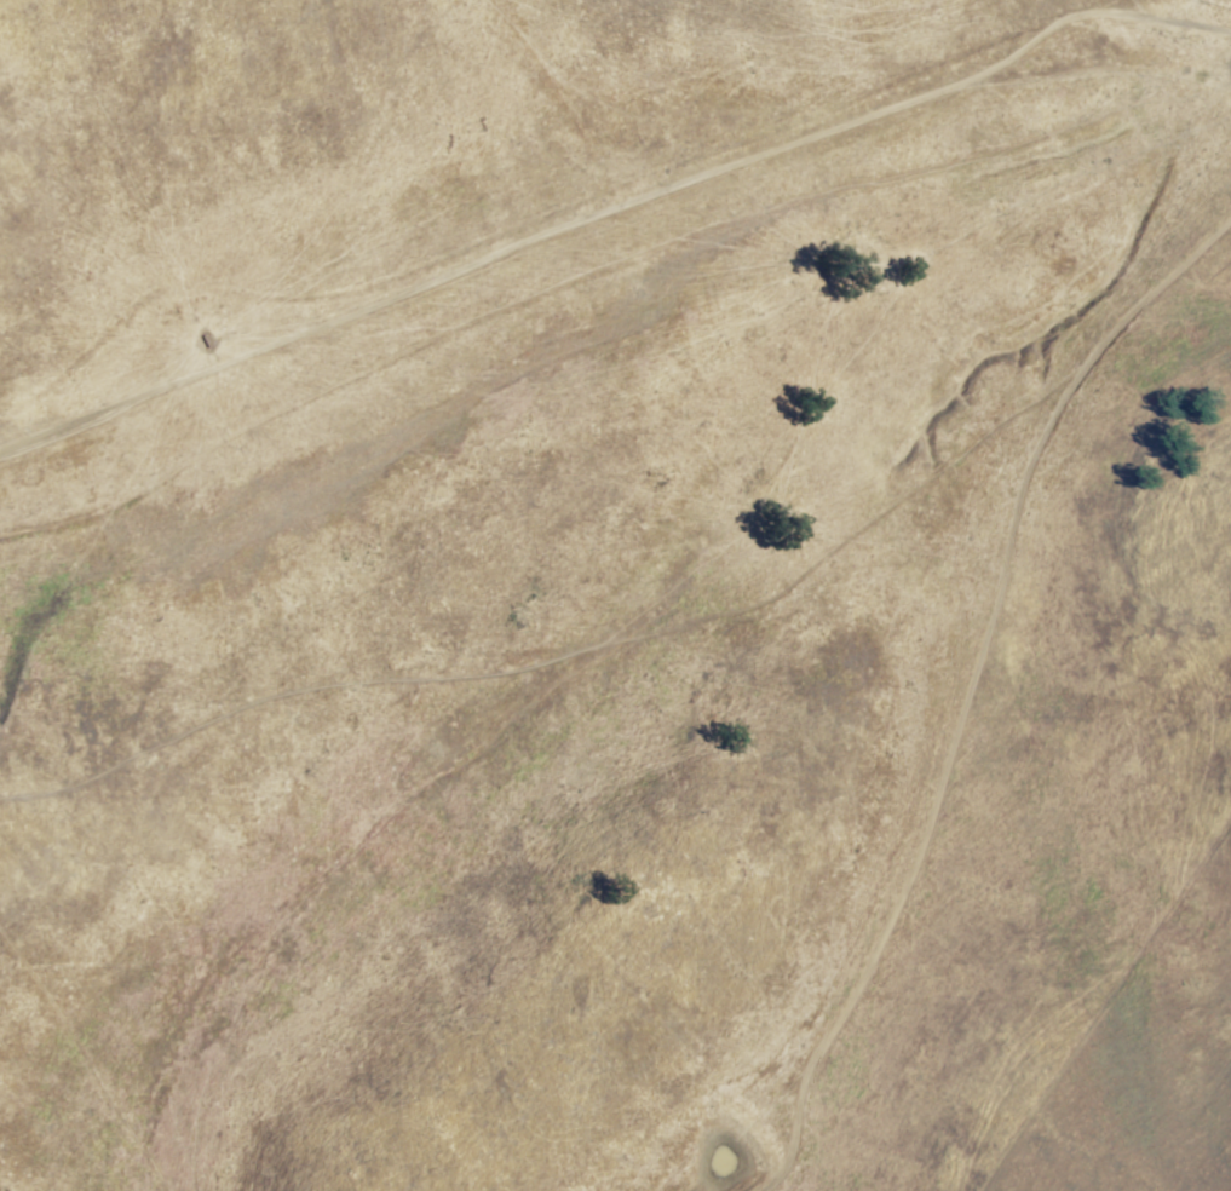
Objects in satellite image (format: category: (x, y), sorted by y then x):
road: (604, 219)

